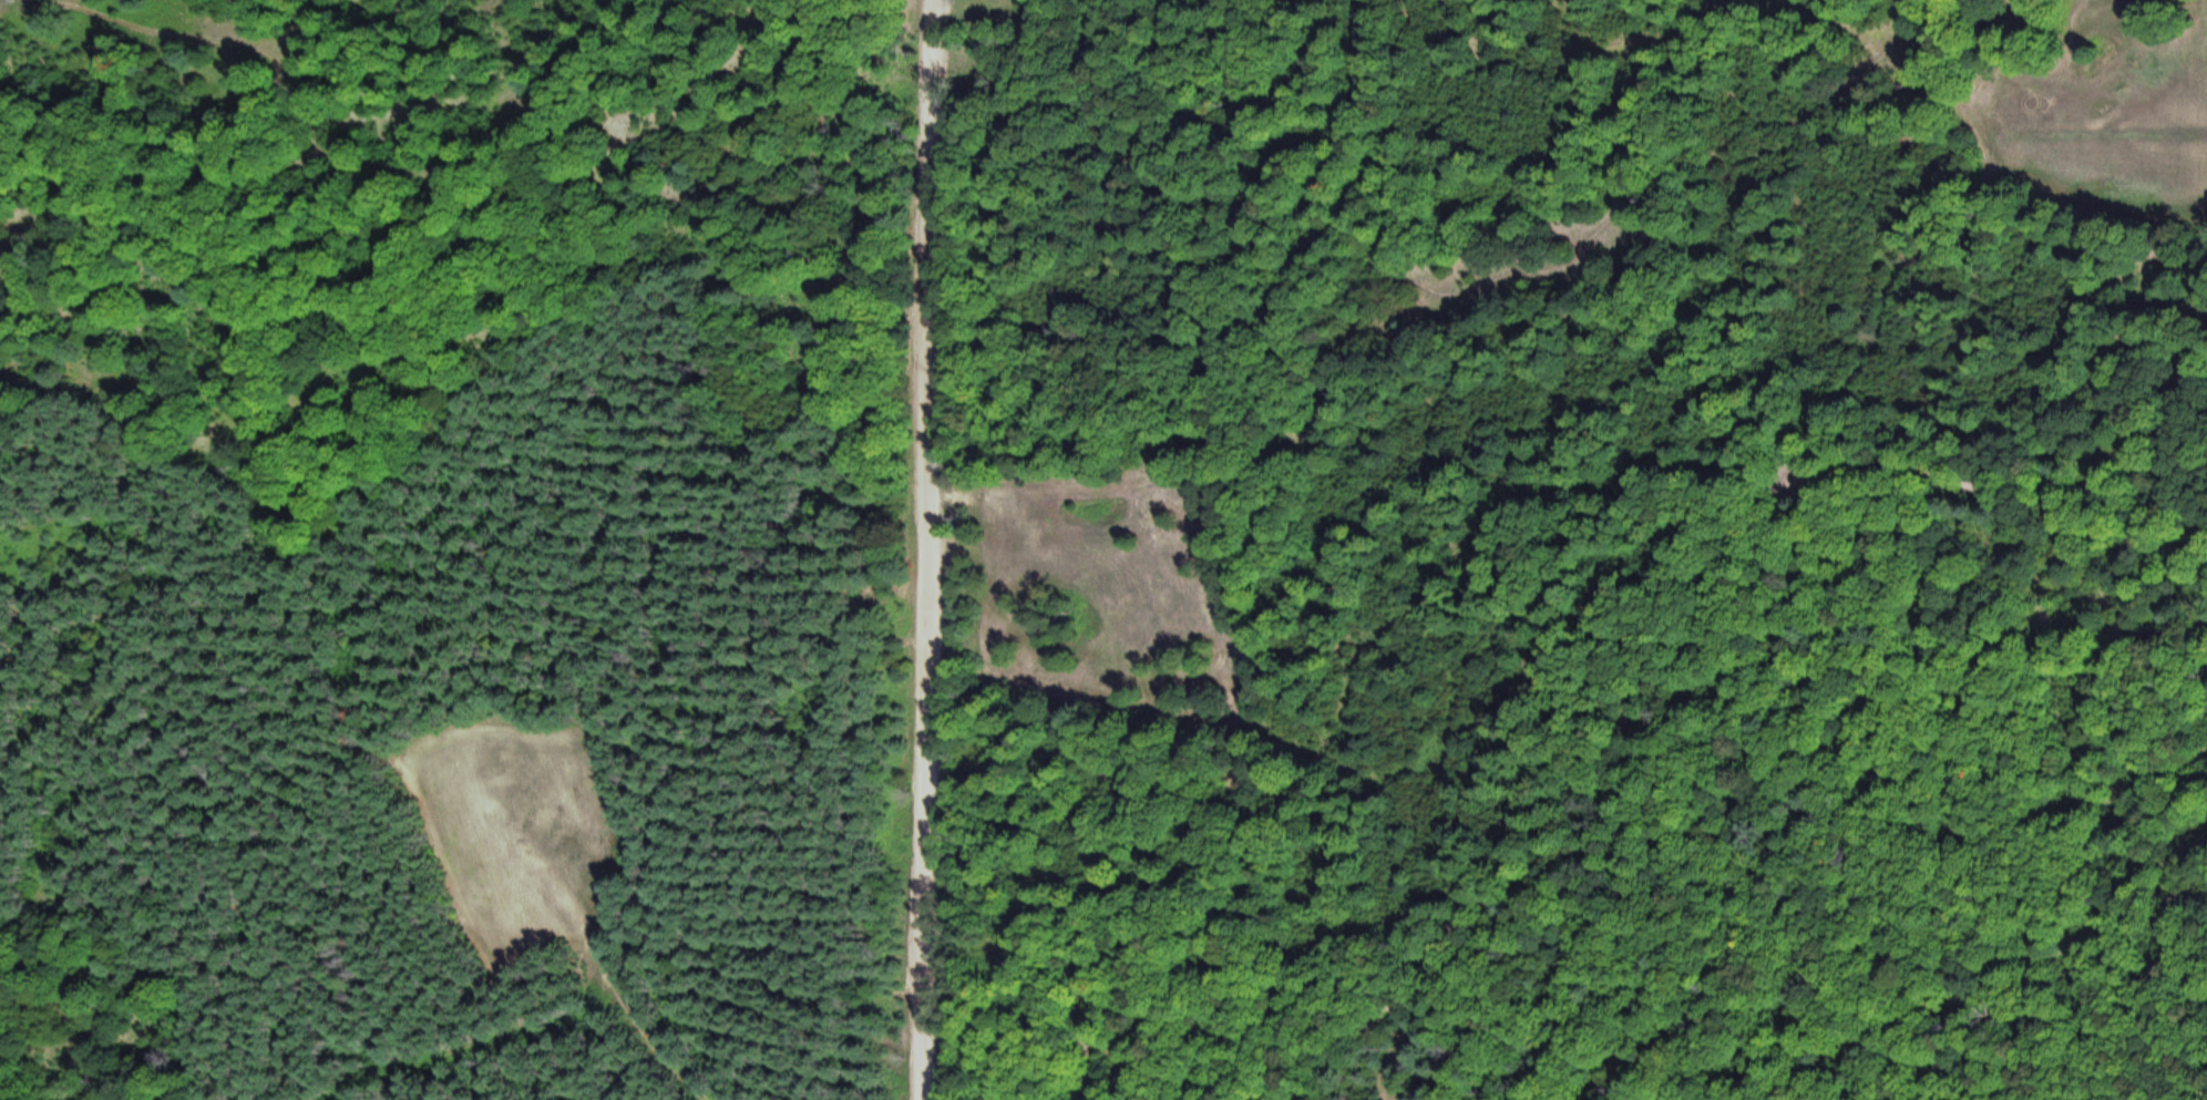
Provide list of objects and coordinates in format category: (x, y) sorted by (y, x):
road: (1024, 318)
road: (927, 549)
road: (1686, 630)
road: (606, 1019)

